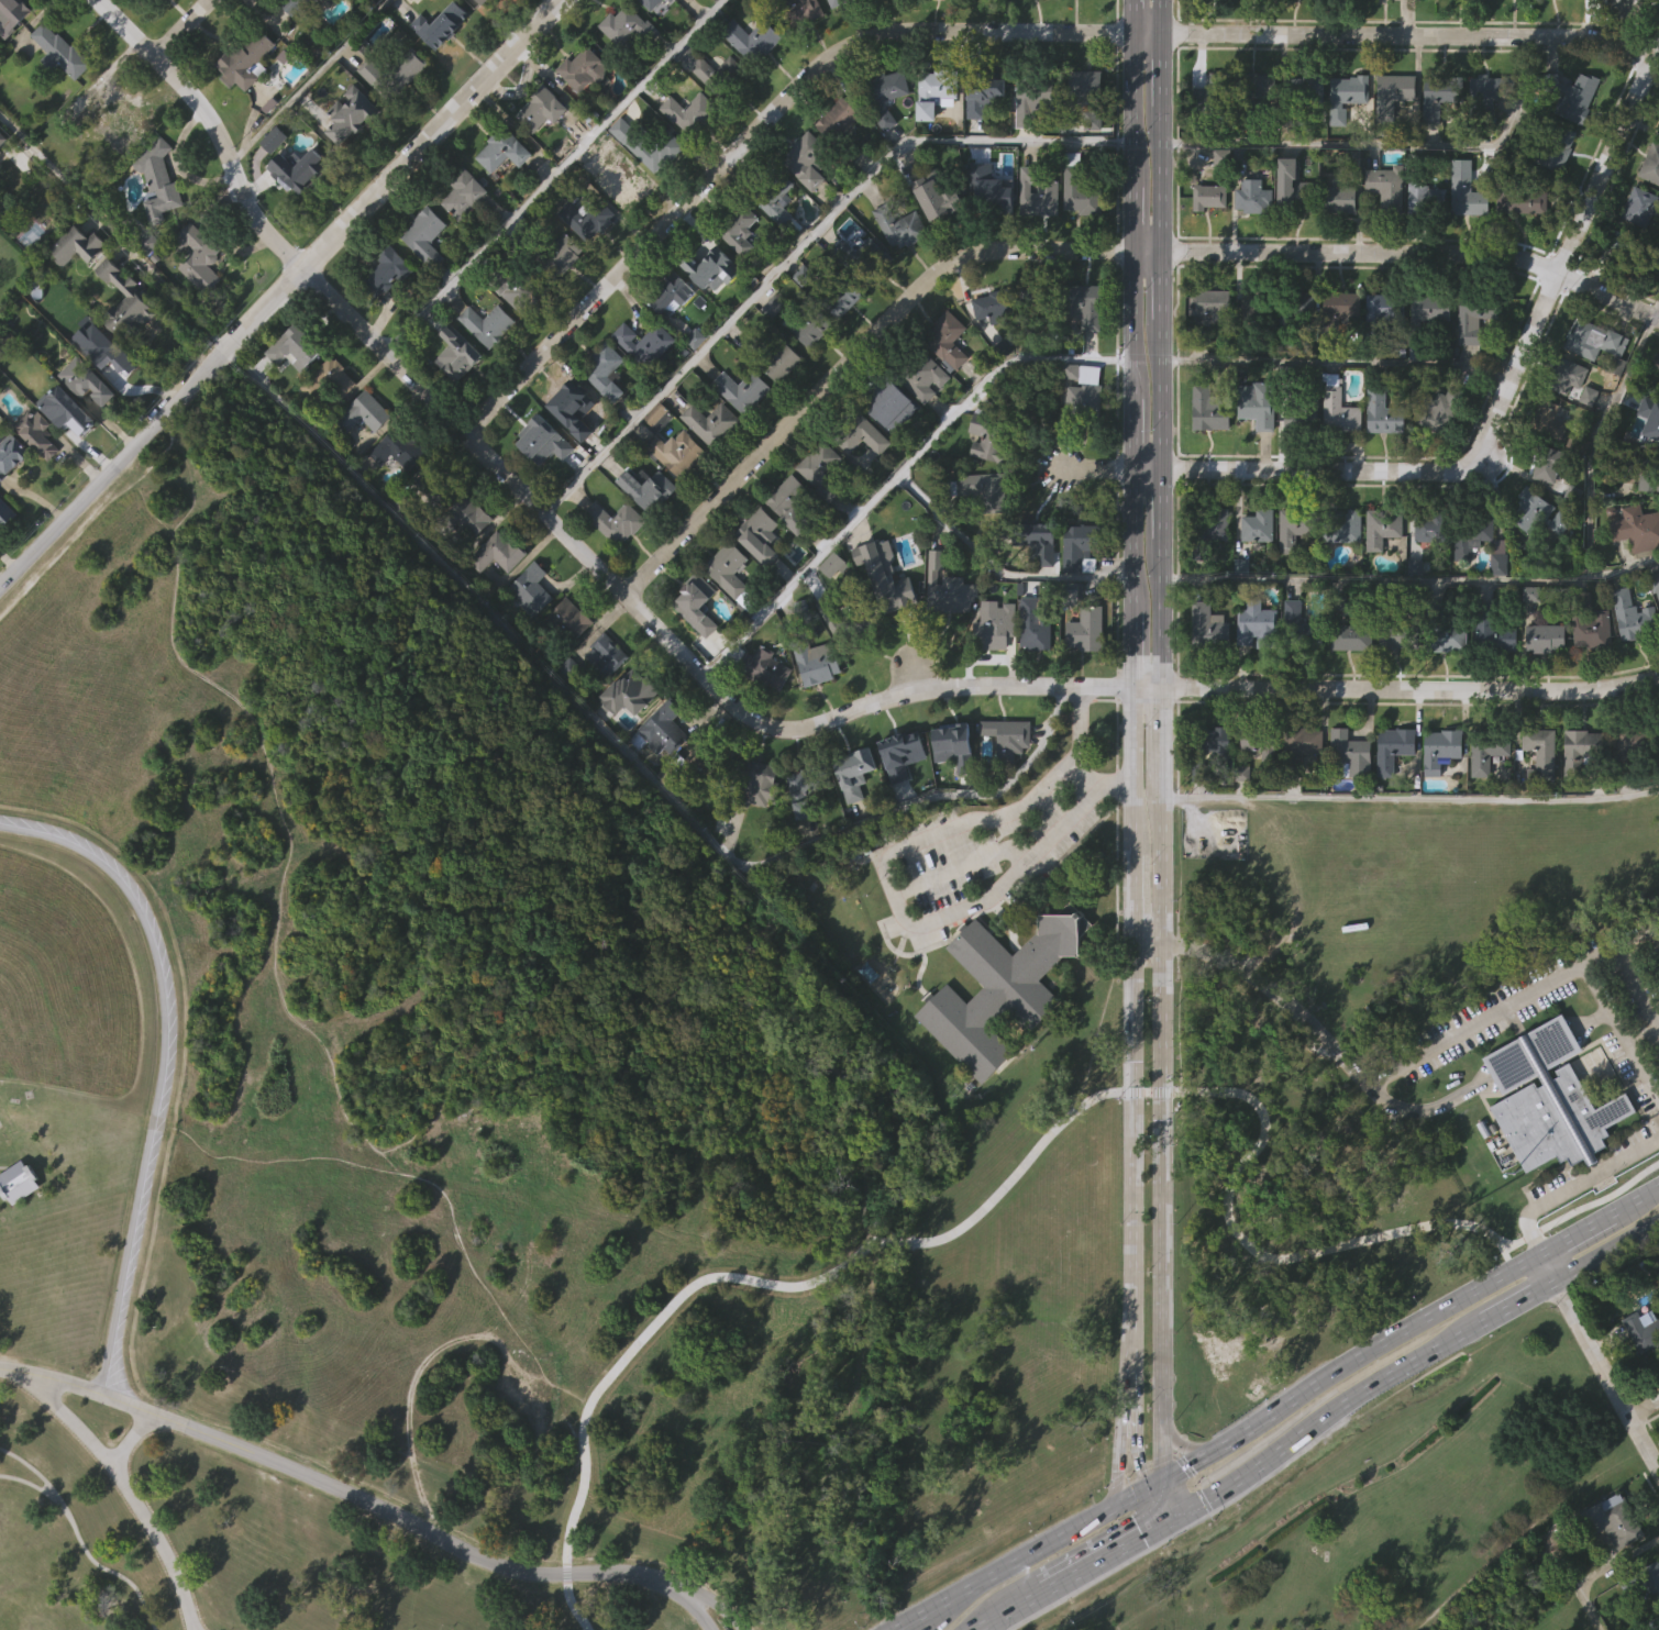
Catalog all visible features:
building: (1610, 0)
building: (311, 1)
building: (480, 1)
building: (838, 2)
building: (648, 3)
building: (292, 5)
building: (356, 5)
building: (798, 11)
building: (12, 12)
building: (146, 13)
building: (715, 13)
building: (987, 16)
building: (1469, 18)
building: (1037, 19)
building: (891, 21)
building: (1080, 21)
building: (440, 22)
building: (937, 22)
building: (1389, 23)
building: (626, 24)
building: (1338, 24)
building: (1512, 24)
building: (1556, 24)
building: (1624, 25)
building: (1301, 26)
road: (180, 27)
building: (311, 29)
building: (1209, 29)
building: (838, 30)
building: (1251, 30)
building: (0, 31)
building: (657, 32)
road: (1151, 33)
road: (1407, 35)
building: (754, 37)
building: (62, 51)
building: (801, 51)
building: (243, 58)
building: (584, 69)
building: (440, 70)
building: (624, 71)
building: (392, 74)
building: (723, 75)
road: (306, 81)
building: (751, 86)
building: (985, 89)
building: (1304, 90)
building: (1215, 92)
building: (1254, 92)
building: (1491, 92)
building: (887, 95)
building: (930, 95)
building: (1395, 95)
building: (1444, 95)
building: (58, 96)
building: (1088, 96)
building: (1348, 96)
building: (1569, 97)
building: (1033, 99)
building: (246, 106)
building: (542, 109)
building: (119, 113)
building: (692, 113)
building: (354, 115)
building: (392, 115)
building: (582, 115)
building: (712, 117)
building: (838, 119)
building: (1083, 130)
building: (887, 132)
building: (1258, 132)
road: (757, 133)
building: (1347, 137)
building: (1484, 137)
building: (1555, 137)
building: (2, 138)
building: (932, 138)
building: (1392, 138)
building: (981, 141)
building: (1574, 142)
road: (1390, 143)
building: (1201, 144)
building: (1436, 144)
building: (1030, 146)
building: (506, 148)
building: (656, 149)
building: (0, 152)
building: (540, 155)
building: (117, 158)
building: (688, 158)
building: (351, 159)
building: (808, 160)
building: (1652, 160)
building: (294, 165)
building: (837, 165)
building: (883, 165)
road: (552, 174)
building: (158, 180)
building: (273, 184)
building: (624, 184)
building: (1071, 184)
building: (2, 186)
building: (1293, 186)
building: (1389, 188)
building: (645, 190)
building: (993, 192)
building: (1039, 192)
building: (464, 193)
building: (1469, 193)
building: (1555, 193)
building: (1424, 195)
building: (501, 196)
building: (776, 196)
building: (1520, 196)
building: (1210, 197)
building: (1254, 197)
building: (939, 199)
building: (1341, 199)
building: (1639, 206)
building: (806, 207)
building: (299, 214)
building: (588, 218)
building: (157, 224)
building: (902, 226)
building: (623, 229)
building: (741, 229)
building: (1292, 233)
building: (1076, 234)
building: (1384, 234)
building: (987, 235)
building: (427, 236)
building: (462, 239)
road: (803, 240)
building: (1464, 240)
building: (1037, 242)
building: (1207, 243)
building: (1251, 243)
building: (934, 245)
building: (1423, 245)
road: (1570, 245)
building: (776, 246)
building: (1338, 246)
road: (1153, 247)
building: (1519, 248)
road: (1417, 250)
building: (554, 254)
building: (198, 255)
building: (863, 256)
building: (1638, 259)
building: (586, 264)
building: (714, 266)
building: (387, 271)
building: (902, 276)
building: (740, 278)
building: (109, 280)
building: (424, 281)
building: (518, 287)
building: (1618, 289)
building: (75, 290)
building: (674, 292)
road: (277, 293)
building: (844, 297)
building: (562, 300)
building: (198, 301)
building: (873, 301)
building: (777, 303)
building: (995, 303)
building: (1086, 304)
building: (1216, 304)
building: (1040, 306)
building: (1434, 308)
building: (1261, 310)
building: (1295, 310)
building: (1340, 310)
building: (1384, 311)
building: (710, 315)
building: (386, 318)
building: (1476, 319)
building: (488, 324)
building: (812, 324)
building: (515, 340)
building: (949, 340)
building: (671, 341)
building: (646, 343)
building: (1601, 343)
building: (125, 346)
building: (296, 348)
building: (1303, 350)
building: (988, 351)
building: (1212, 351)
building: (1084, 352)
building: (838, 354)
building: (1339, 354)
building: (458, 355)
building: (1250, 355)
building: (1382, 355)
building: (773, 356)
building: (1428, 356)
road: (1340, 357)
building: (1656, 361)
road: (855, 364)
building: (1472, 367)
building: (91, 369)
building: (487, 369)
building: (607, 372)
road: (999, 372)
building: (808, 375)
building: (923, 376)
building: (1569, 377)
building: (328, 380)
building: (694, 384)
building: (1593, 386)
building: (41, 387)
building: (643, 388)
building: (743, 390)
building: (1085, 390)
building: (944, 391)
building: (294, 392)
building: (455, 400)
building: (1260, 404)
building: (573, 407)
building: (888, 408)
building: (1340, 408)
building: (779, 409)
building: (1210, 410)
building: (364, 412)
building: (1386, 413)
building: (1442, 413)
building: (1652, 414)
building: (1304, 417)
building: (602, 418)
building: (1551, 420)
building: (712, 423)
building: (84, 425)
building: (328, 425)
building: (923, 425)
building: (37, 433)
building: (1081, 434)
building: (861, 435)
building: (741, 436)
building: (542, 443)
building: (982, 447)
building: (400, 450)
building: (678, 451)
building: (1254, 451)
building: (11, 454)
building: (572, 454)
building: (66, 455)
building: (1207, 455)
building: (1337, 455)
building: (1437, 456)
building: (362, 458)
building: (654, 459)
building: (1381, 459)
building: (1298, 464)
building: (1552, 464)
building: (709, 469)
road: (1098, 469)
road: (1147, 470)
road: (1323, 470)
building: (1644, 472)
building: (823, 474)
road: (897, 476)
building: (36, 479)
building: (861, 481)
building: (435, 486)
building: (542, 486)
building: (649, 489)
building: (986, 490)
building: (398, 495)
building: (676, 498)
building: (793, 501)
building: (817, 509)
building: (1540, 511)
building: (5, 513)
road: (544, 515)
building: (464, 517)
building: (617, 522)
building: (1260, 525)
building: (1345, 525)
building: (1384, 526)
building: (1639, 526)
building: (1297, 528)
building: (1433, 528)
building: (1209, 531)
building: (645, 534)
building: (760, 535)
building: (981, 536)
building: (1481, 537)
building: (1040, 541)
building: (1082, 546)
building: (498, 550)
building: (787, 550)
building: (1528, 556)
building: (5, 557)
building: (467, 564)
building: (836, 565)
building: (613, 567)
building: (1213, 568)
building: (1558, 568)
building: (1256, 573)
building: (1340, 574)
building: (1427, 574)
building: (728, 575)
building: (1291, 576)
building: (1380, 576)
building: (881, 578)
road: (1512, 579)
building: (1654, 581)
building: (757, 583)
building: (1472, 584)
building: (950, 588)
building: (1036, 589)
building: (531, 591)
building: (495, 598)
building: (697, 601)
building: (1496, 602)
building: (1413, 612)
building: (727, 614)
building: (1636, 617)
building: (845, 618)
building: (568, 620)
building: (883, 621)
building: (1081, 621)
road: (501, 623)
building: (1592, 623)
building: (1263, 624)
building: (993, 628)
building: (1212, 628)
building: (1303, 628)
building: (1397, 628)
building: (1495, 629)
building: (1447, 631)
building: (1037, 632)
building: (945, 634)
building: (1353, 636)
building: (1548, 636)
building: (529, 637)
building: (807, 642)
building: (694, 651)
building: (605, 655)
building: (566, 664)
building: (761, 665)
building: (1253, 670)
building: (992, 672)
building: (1032, 672)
building: (1206, 672)
building: (1297, 672)
building: (1084, 676)
building: (1590, 676)
building: (1492, 678)
building: (1350, 684)
building: (1448, 684)
building: (1544, 685)
building: (1392, 687)
building: (633, 689)
road: (1148, 690)
road: (1409, 690)
road: (1138, 691)
building: (604, 701)
building: (816, 709)
building: (757, 710)
building: (565, 711)
building: (1657, 727)
building: (661, 729)
building: (1009, 735)
building: (628, 738)
road: (1160, 738)
building: (1261, 741)
building: (956, 743)
building: (1630, 745)
building: (1302, 746)
building: (1445, 746)
building: (1396, 747)
building: (1490, 747)
building: (1209, 750)
building: (1583, 750)
building: (902, 752)
building: (1353, 753)
building: (1544, 753)
building: (711, 754)
building: (1658, 764)
building: (672, 767)
building: (856, 770)
road: (1083, 777)
building: (809, 780)
building: (756, 783)
building: (1006, 783)
building: (634, 786)
building: (1212, 786)
building: (1302, 787)
building: (1626, 789)
building: (952, 791)
building: (1258, 791)
building: (1391, 795)
road: (1411, 795)
building: (1439, 795)
building: (1579, 795)
building: (1349, 798)
building: (1539, 798)
building: (900, 799)
building: (1485, 799)
building: (699, 808)
building: (853, 820)
building: (756, 829)
road: (270, 836)
building: (798, 841)
road: (960, 864)
road: (888, 887)
road: (1150, 945)
road: (1634, 980)
building: (1003, 988)
building: (998, 1033)
road: (825, 1056)
road: (167, 1067)
building: (1552, 1099)
road: (1417, 1101)
park: (447, 1143)
building: (1547, 1145)
road: (1423, 1154)
building: (21, 1182)
road: (1635, 1201)
road: (395, 1220)
building: (18, 1226)
road: (1573, 1235)
road: (1605, 1255)
road: (970, 1261)
road: (1544, 1271)
road: (1517, 1306)
building: (1644, 1331)
road: (1348, 1363)
road: (1606, 1377)
building: (1640, 1377)
road: (1462, 1386)
road: (1128, 1396)
road: (1644, 1404)
road: (1330, 1417)
road: (131, 1439)
road: (278, 1442)
road: (1182, 1442)
road: (1119, 1459)
traffic signals: (1138, 1460)
traffic signals: (1191, 1461)
road: (1139, 1466)
traffic signals: (1118, 1468)
road: (121, 1481)
road: (1154, 1481)
road: (25, 1482)
road: (349, 1490)
road: (1172, 1494)
road: (1170, 1518)
building: (1621, 1521)
park: (1390, 1526)
road: (1140, 1533)
traffic signals: (1142, 1533)
road: (78, 1539)
road: (1022, 1557)
building: (1610, 1565)
road: (1597, 1571)
road: (1073, 1572)
building: (1645, 1582)
road: (718, 1611)
road: (703, 1614)
road: (996, 1615)
road: (1261, 1618)
building: (1658, 1621)

